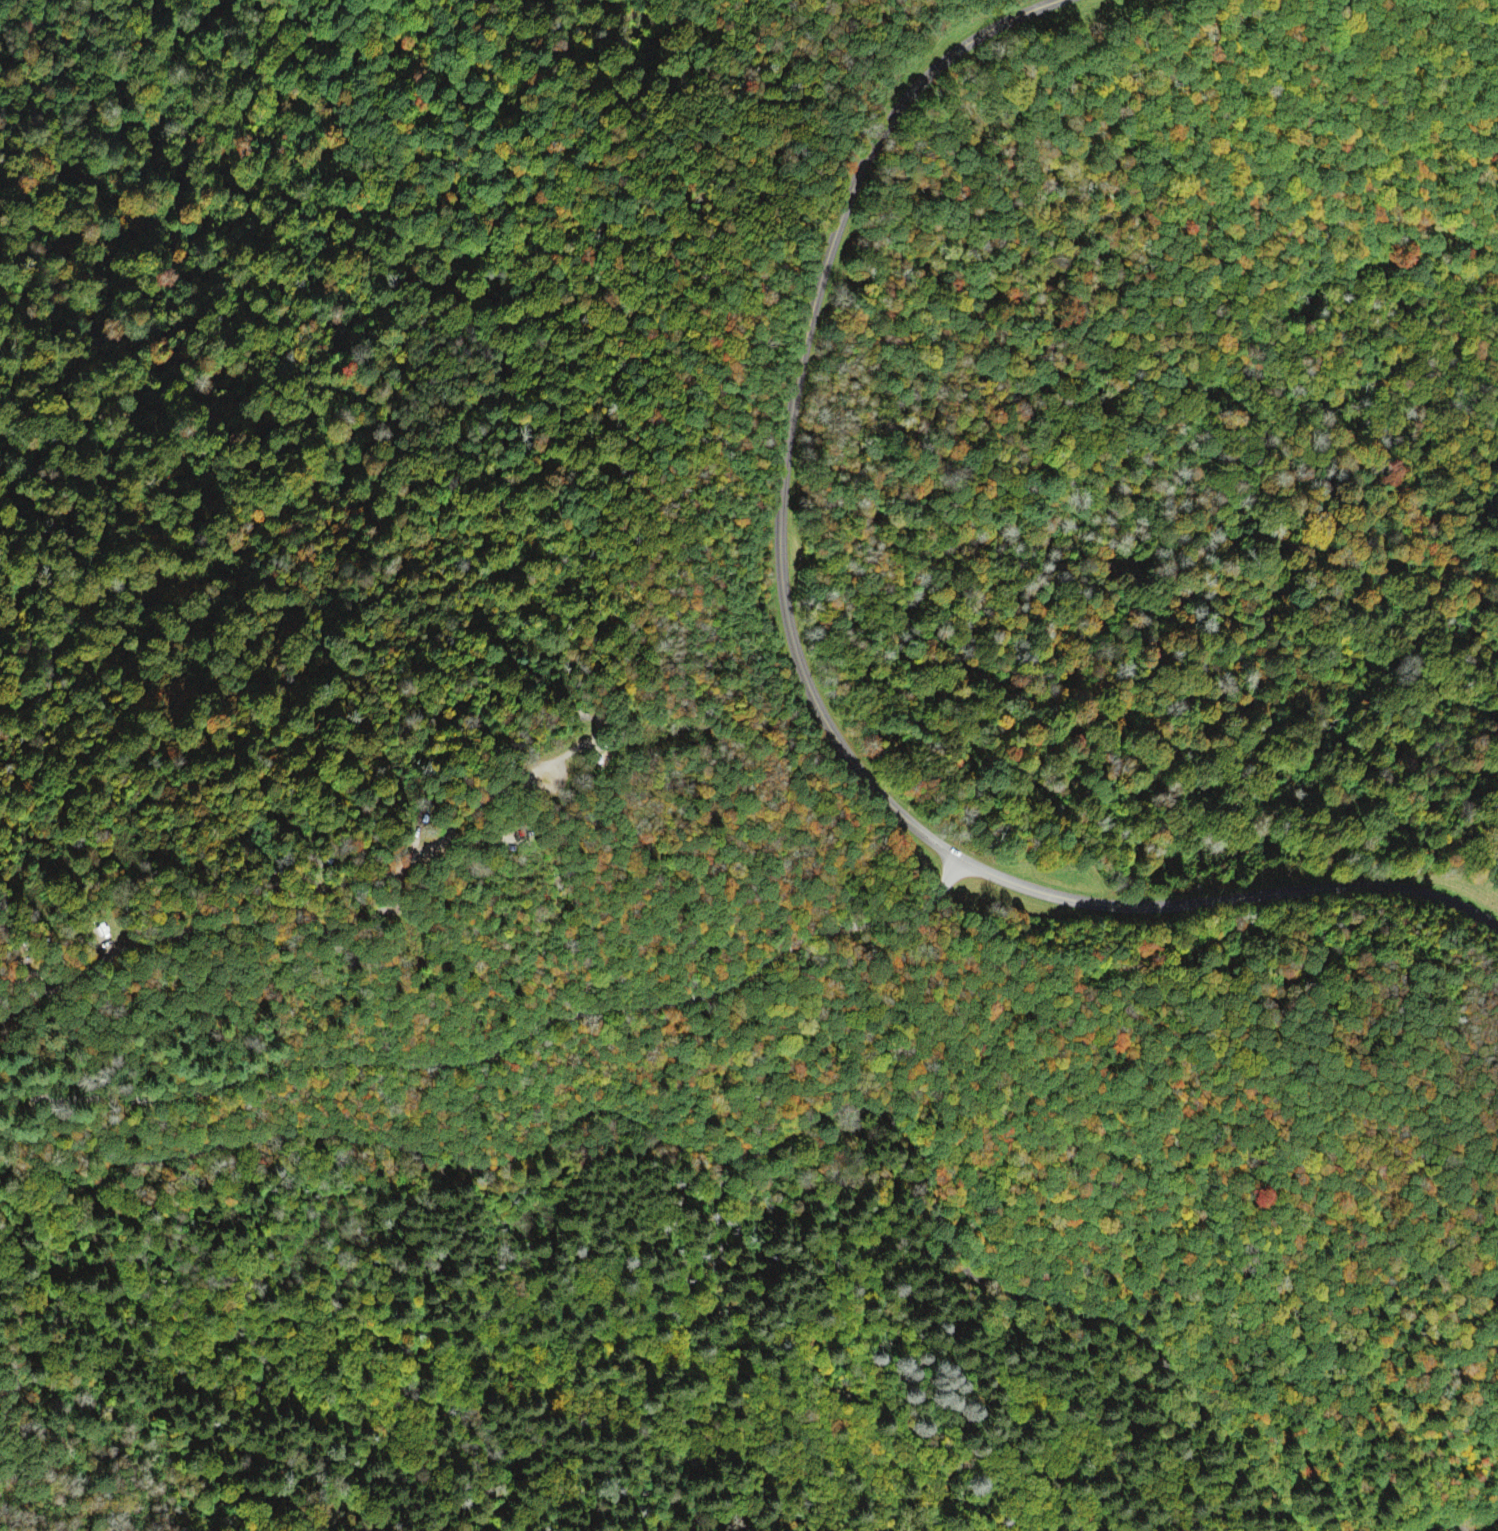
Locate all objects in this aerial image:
road: (808, 679)
road: (504, 1047)
road: (740, 1157)
road: (1443, 1524)

